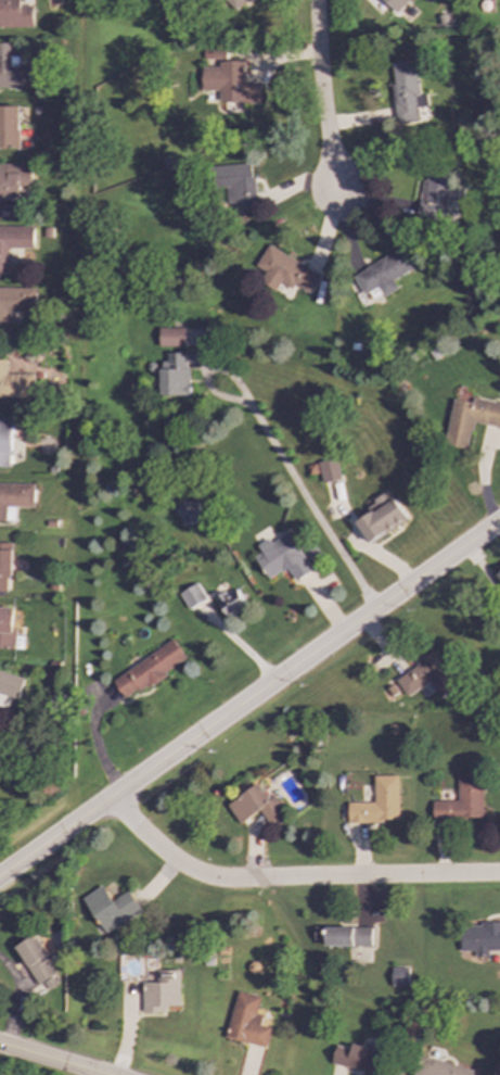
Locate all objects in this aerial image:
building: (234, 3)
building: (395, 4)
building: (16, 14)
building: (15, 71)
building: (230, 83)
building: (405, 91)
road: (321, 98)
building: (9, 126)
building: (13, 180)
building: (239, 186)
building: (433, 197)
building: (13, 242)
building: (283, 270)
building: (382, 274)
building: (15, 302)
building: (171, 337)
building: (174, 374)
building: (14, 383)
building: (469, 419)
building: (5, 442)
road: (278, 457)
building: (328, 471)
building: (14, 498)
building: (189, 511)
building: (380, 518)
building: (281, 557)
building: (4, 564)
building: (498, 574)
building: (193, 596)
building: (231, 602)
building: (7, 628)
building: (149, 669)
building: (426, 676)
building: (10, 685)
road: (249, 699)
building: (462, 800)
building: (377, 802)
building: (255, 806)
road: (290, 877)
building: (111, 908)
building: (347, 937)
building: (479, 938)
building: (38, 963)
building: (398, 977)
building: (161, 992)
road: (17, 1000)
building: (246, 1021)
road: (51, 1059)
building: (356, 1059)
building: (438, 1067)
road: (98, 1074)

